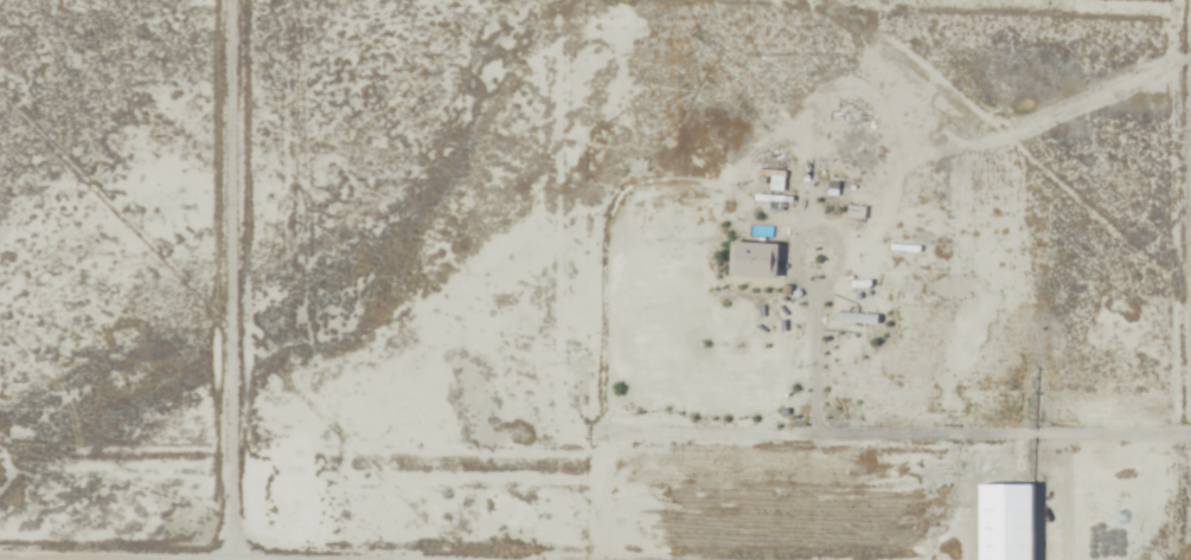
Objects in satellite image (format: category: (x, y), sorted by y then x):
road: (235, 226)
building: (754, 260)
road: (814, 353)
road: (117, 448)
road: (712, 448)
road: (1056, 502)

